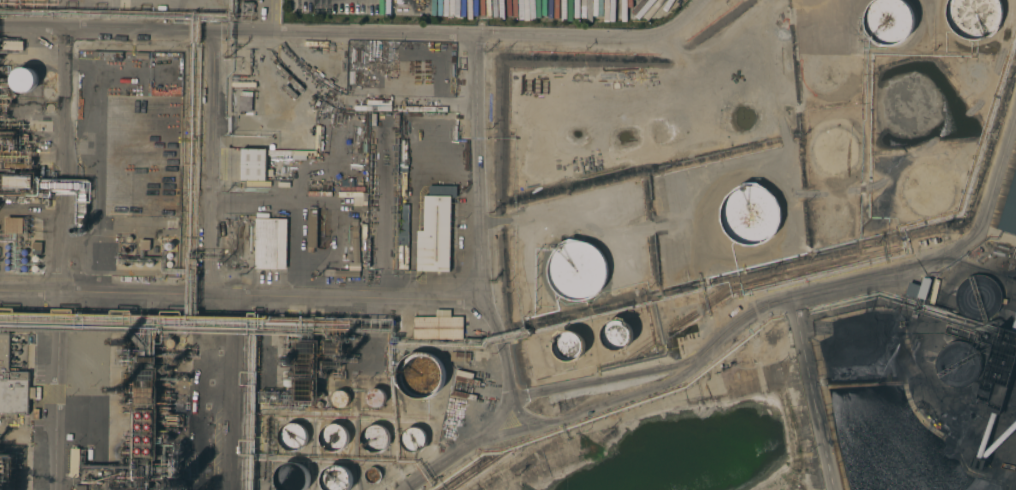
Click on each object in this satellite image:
building: (974, 17)
building: (889, 21)
road: (360, 34)
building: (13, 45)
building: (107, 54)
building: (449, 62)
building: (24, 79)
building: (397, 80)
road: (62, 158)
road: (210, 163)
building: (253, 164)
road: (473, 164)
building: (18, 182)
building: (383, 184)
building: (441, 190)
building: (1009, 210)
building: (750, 214)
building: (13, 225)
building: (311, 230)
building: (435, 233)
building: (270, 242)
building: (355, 250)
building: (403, 257)
building: (110, 262)
building: (578, 271)
building: (917, 289)
road: (242, 296)
road: (807, 297)
building: (976, 297)
building: (438, 326)
building: (616, 334)
building: (567, 345)
building: (333, 348)
building: (87, 351)
building: (460, 356)
building: (307, 358)
road: (504, 360)
building: (957, 365)
building: (420, 375)
building: (12, 383)
building: (145, 385)
road: (57, 390)
building: (307, 390)
road: (812, 395)
building: (992, 396)
building: (375, 398)
building: (339, 399)
road: (225, 416)
building: (145, 433)
building: (291, 435)
building: (334, 437)
building: (374, 438)
building: (412, 439)
road: (464, 448)
building: (74, 461)
building: (372, 475)
building: (291, 476)
building: (337, 478)

